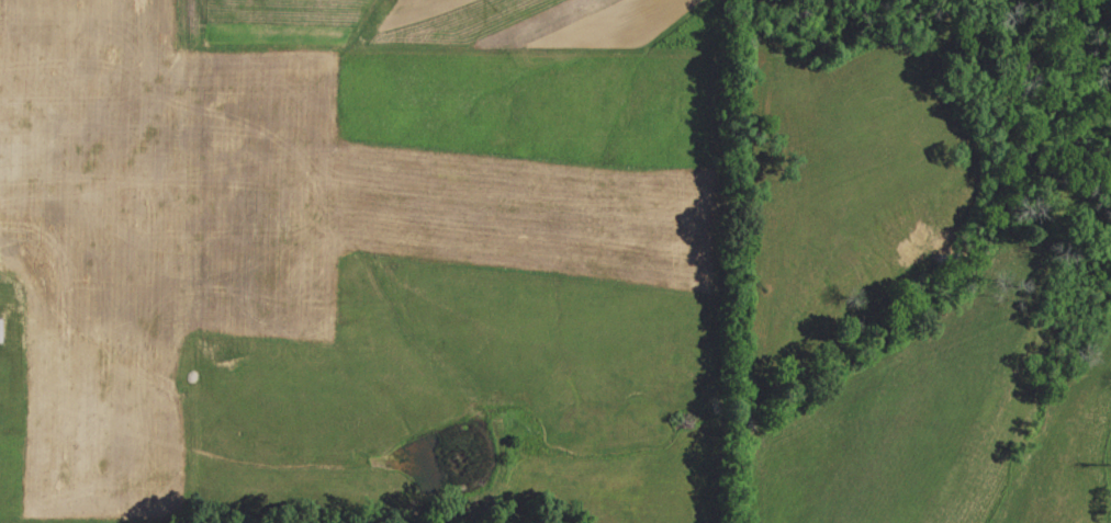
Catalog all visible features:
building: (4, 330)

